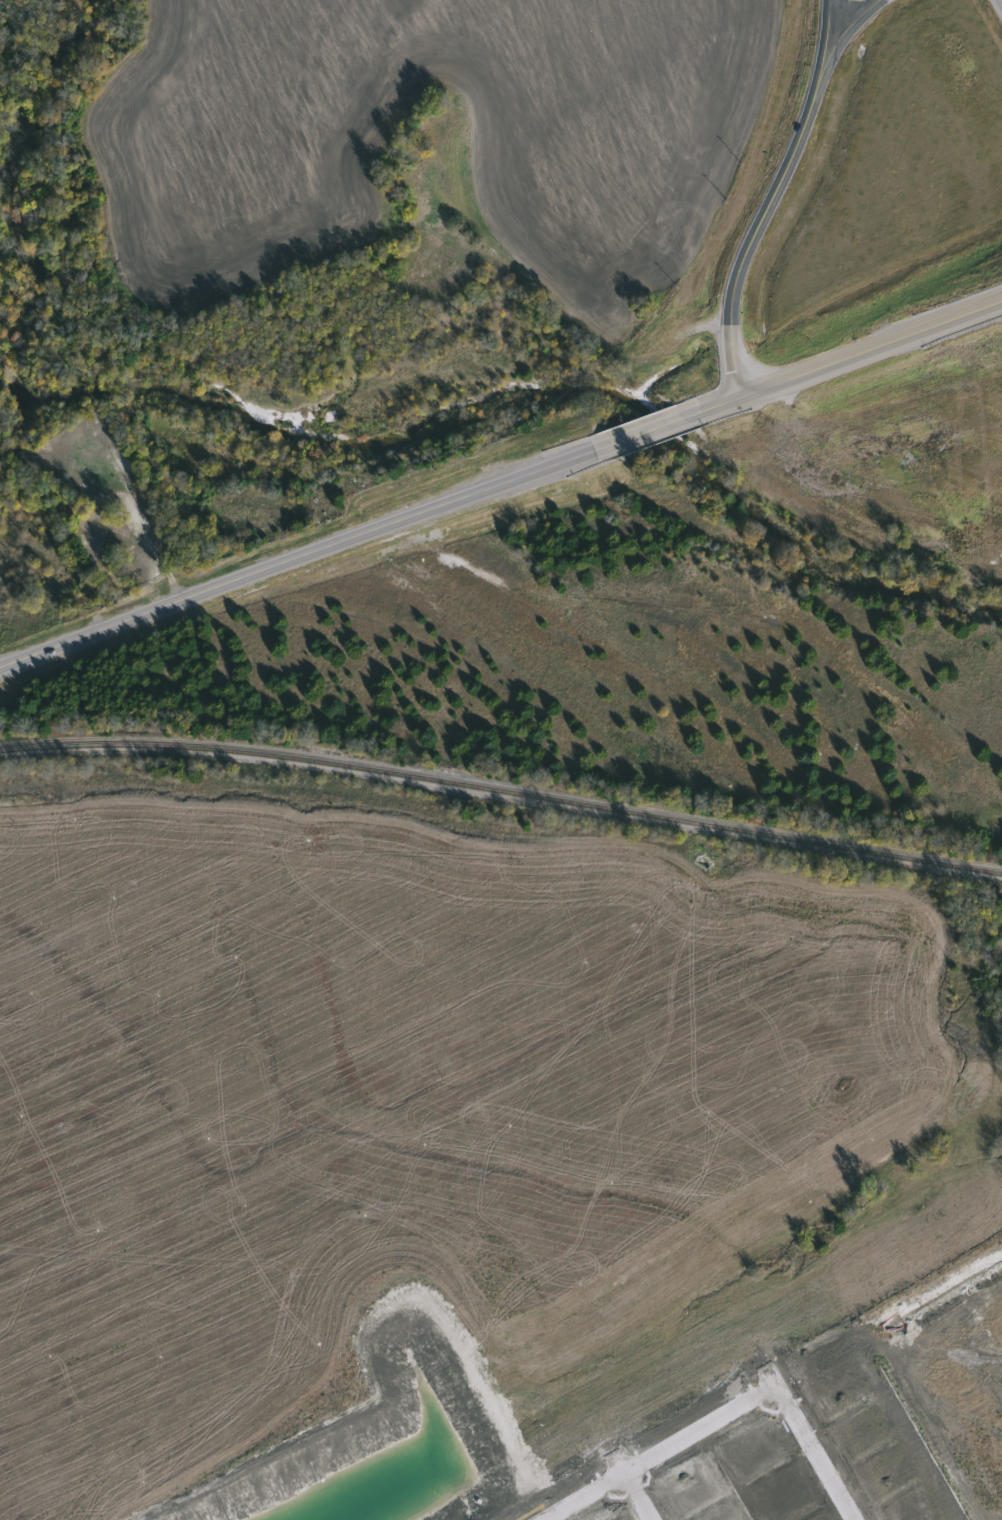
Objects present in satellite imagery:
road: (823, 33)
road: (849, 33)
building: (434, 125)
building: (416, 153)
building: (412, 186)
road: (759, 230)
road: (853, 362)
road: (655, 432)
road: (301, 555)
railway: (502, 788)
road: (729, 1409)
road: (645, 1494)

